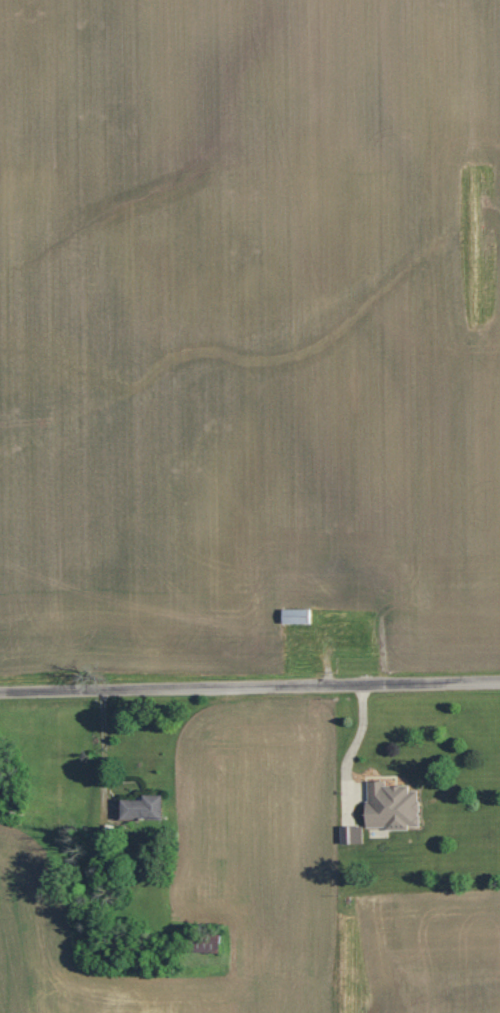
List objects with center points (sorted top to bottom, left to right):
building: (294, 615)
road: (250, 684)
building: (389, 804)
building: (141, 809)

